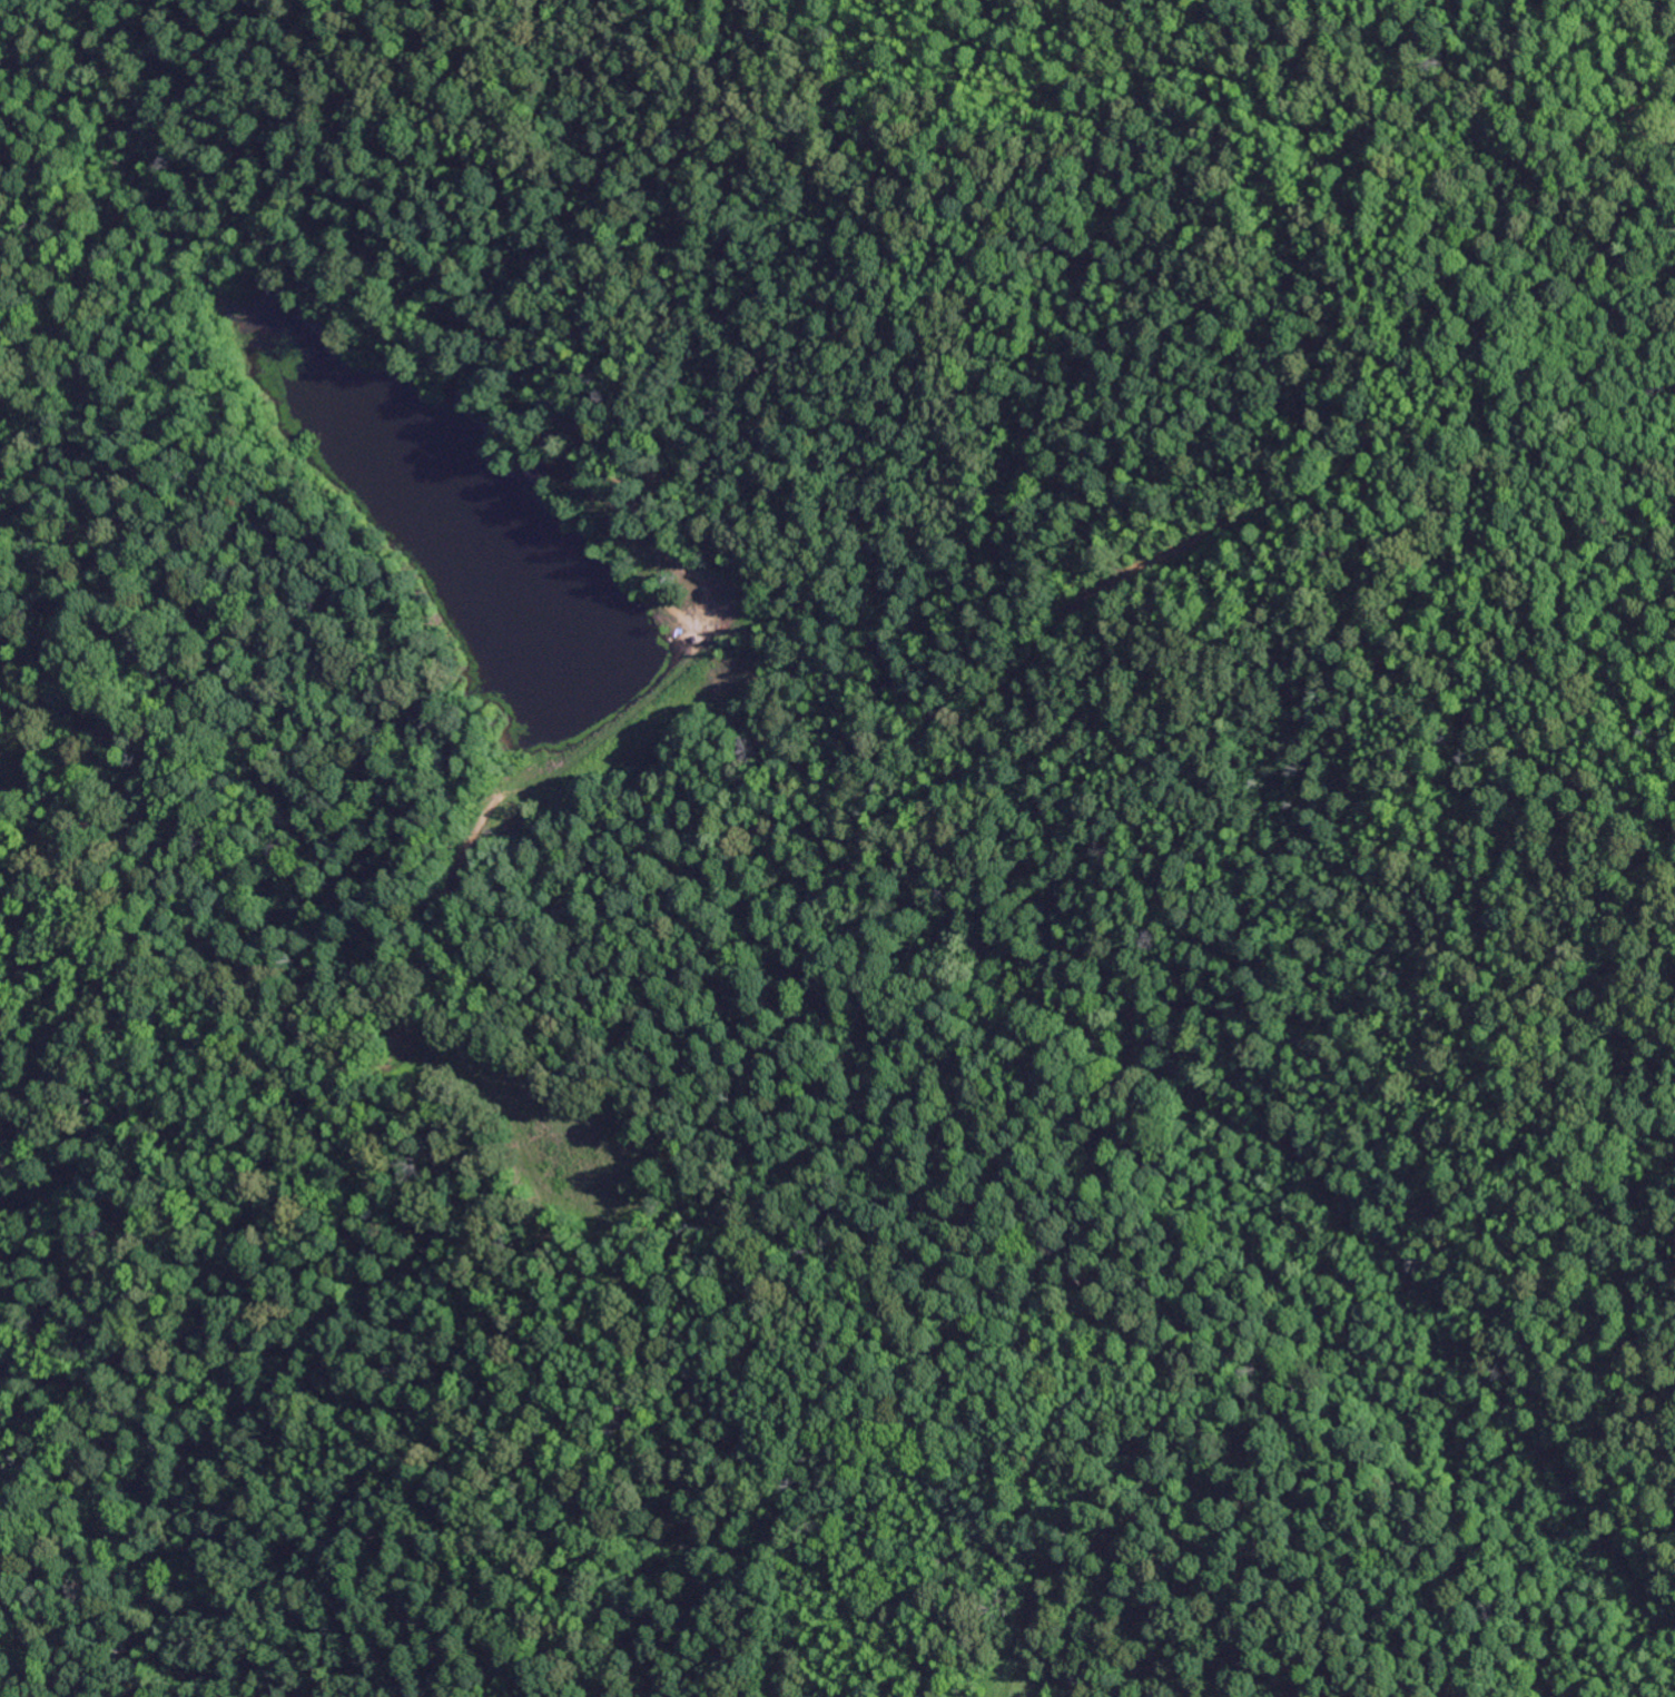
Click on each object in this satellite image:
road: (1620, 251)

